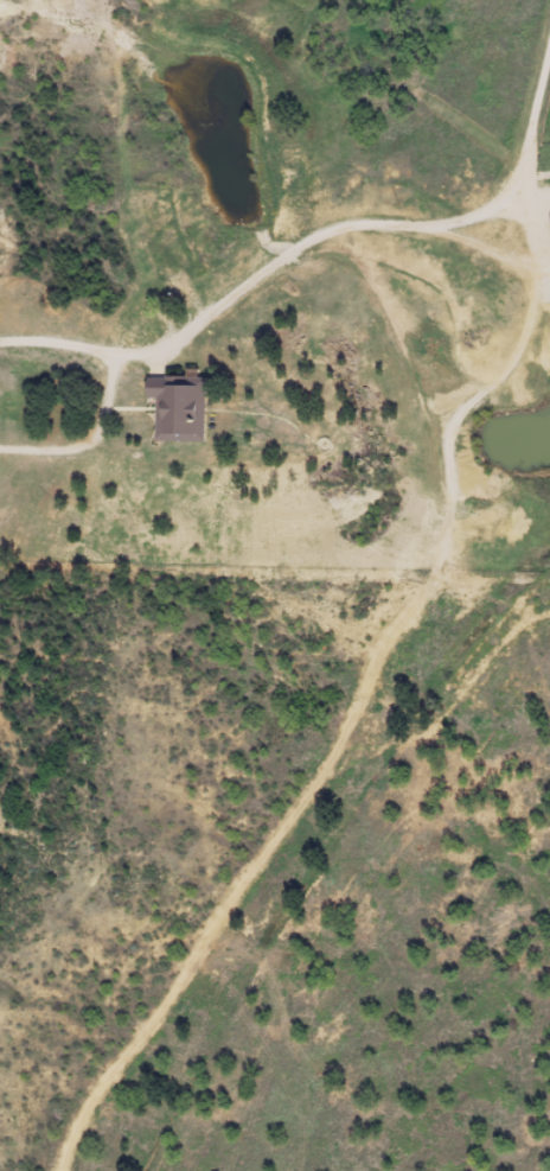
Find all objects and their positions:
road: (314, 240)
building: (179, 418)

